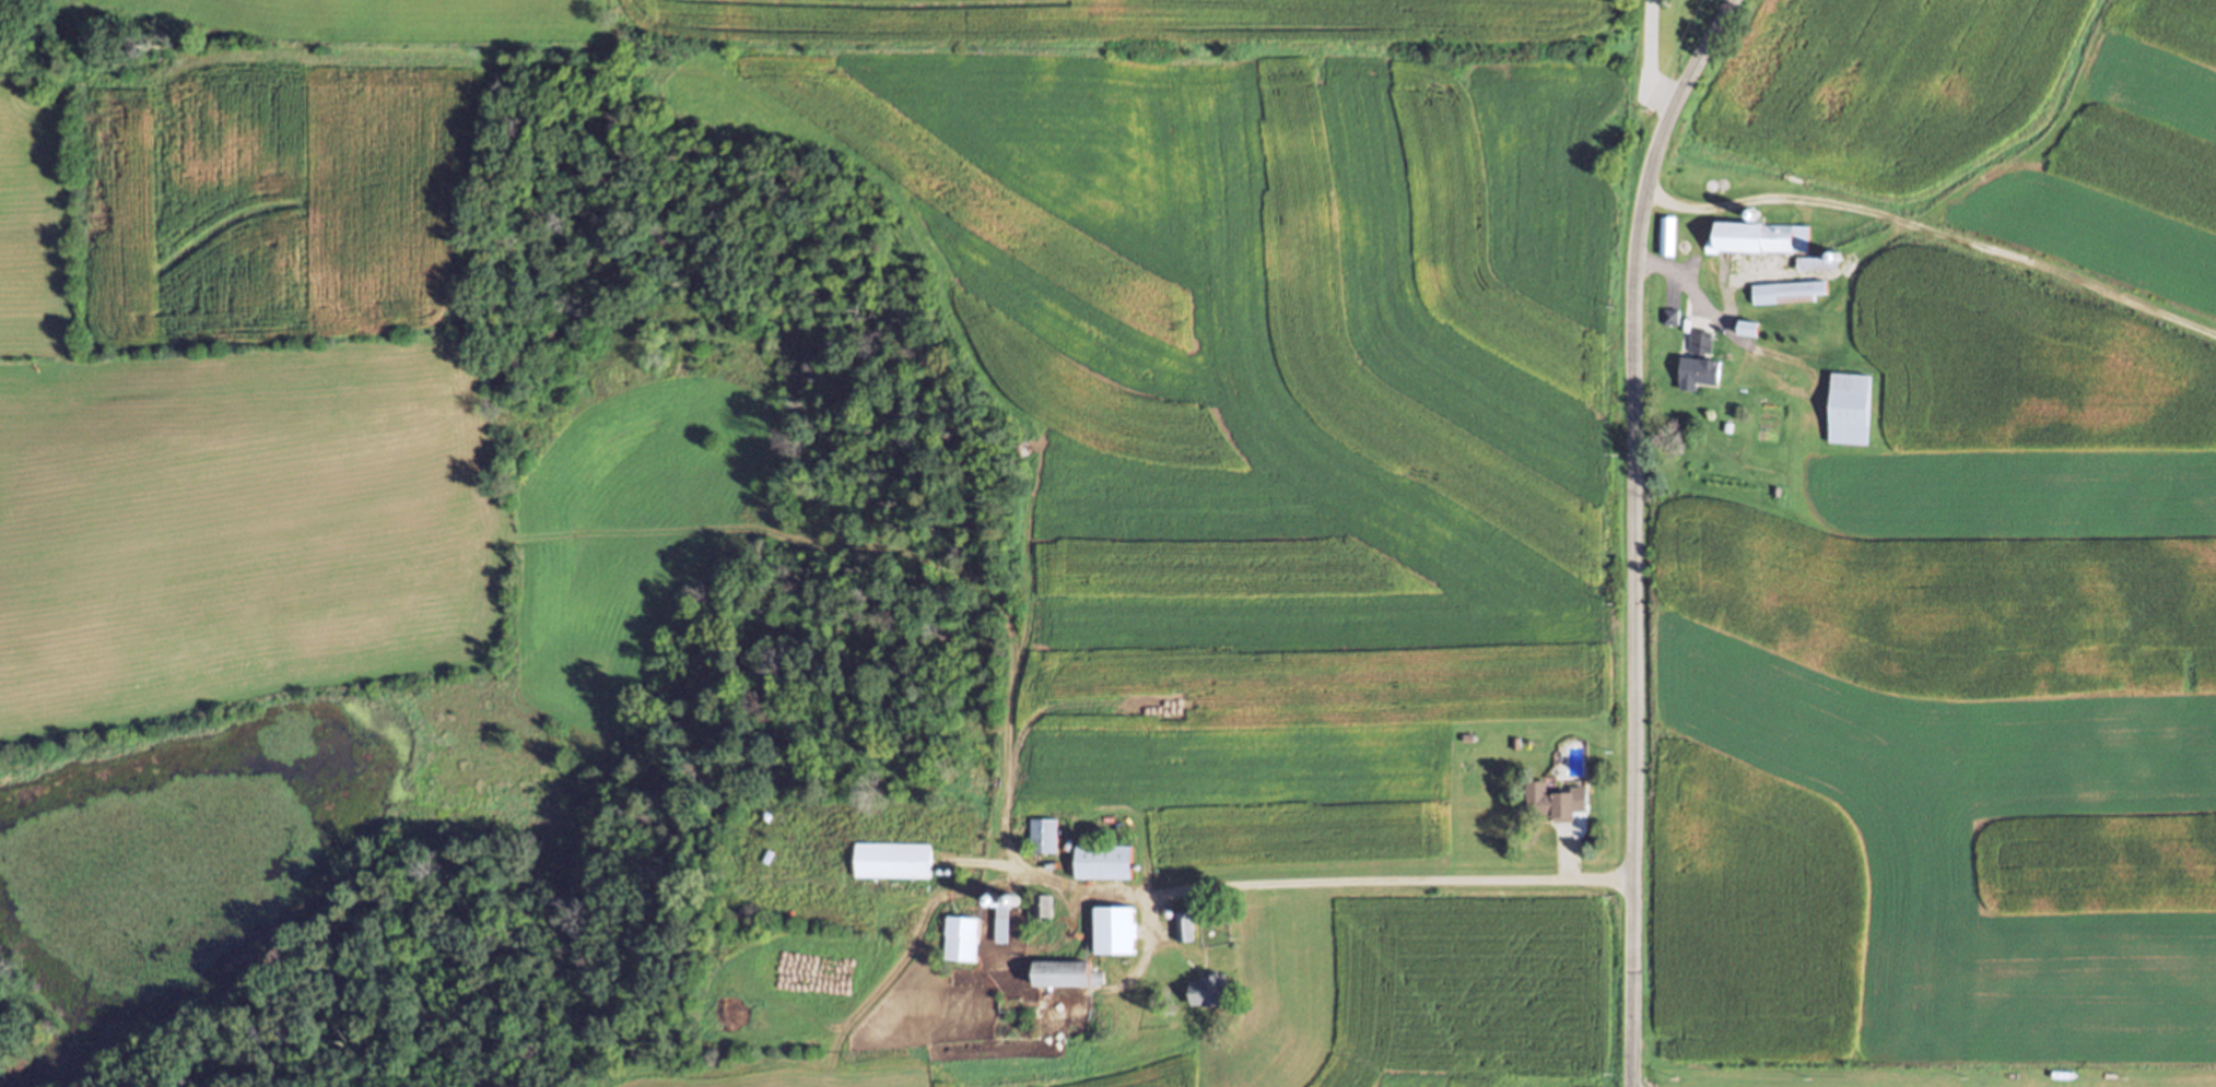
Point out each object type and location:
road: (1652, 58)
building: (1666, 234)
building: (1758, 236)
building: (1819, 262)
building: (1785, 291)
road: (1703, 302)
building: (1669, 316)
building: (1751, 329)
building: (1697, 359)
building: (1848, 407)
building: (1724, 425)
building: (1773, 489)
road: (1631, 532)
building: (1549, 799)
building: (1045, 835)
building: (895, 859)
building: (1104, 862)
road: (1395, 881)
building: (1045, 907)
building: (1004, 915)
building: (1185, 928)
building: (1115, 930)
building: (962, 937)
building: (1065, 972)
building: (1209, 991)

